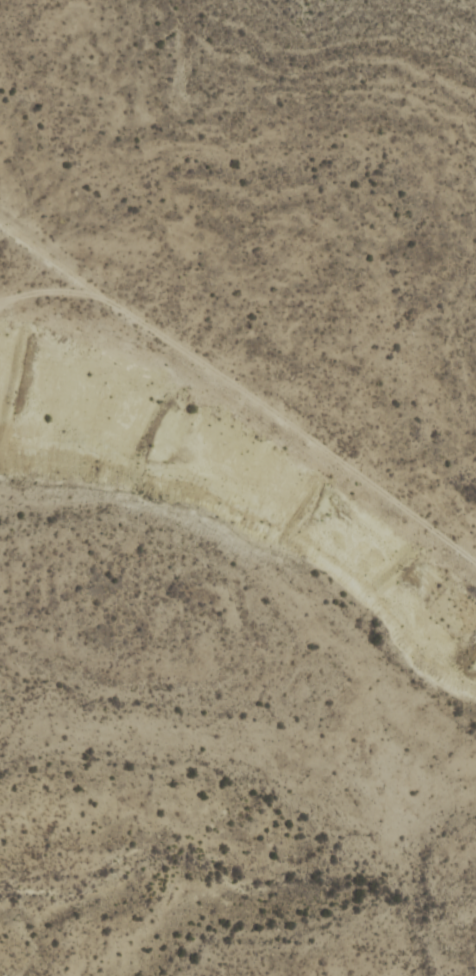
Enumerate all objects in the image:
road: (240, 389)
park: (235, 568)

